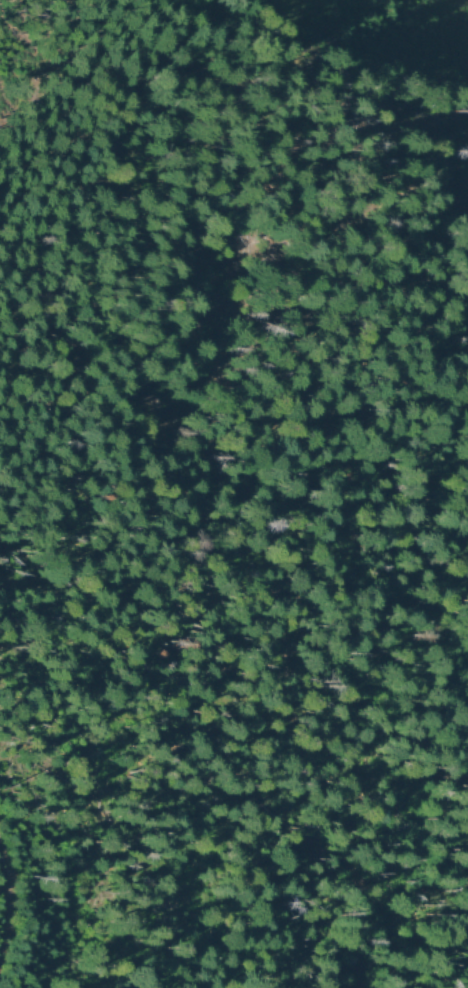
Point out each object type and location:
road: (7, 912)

